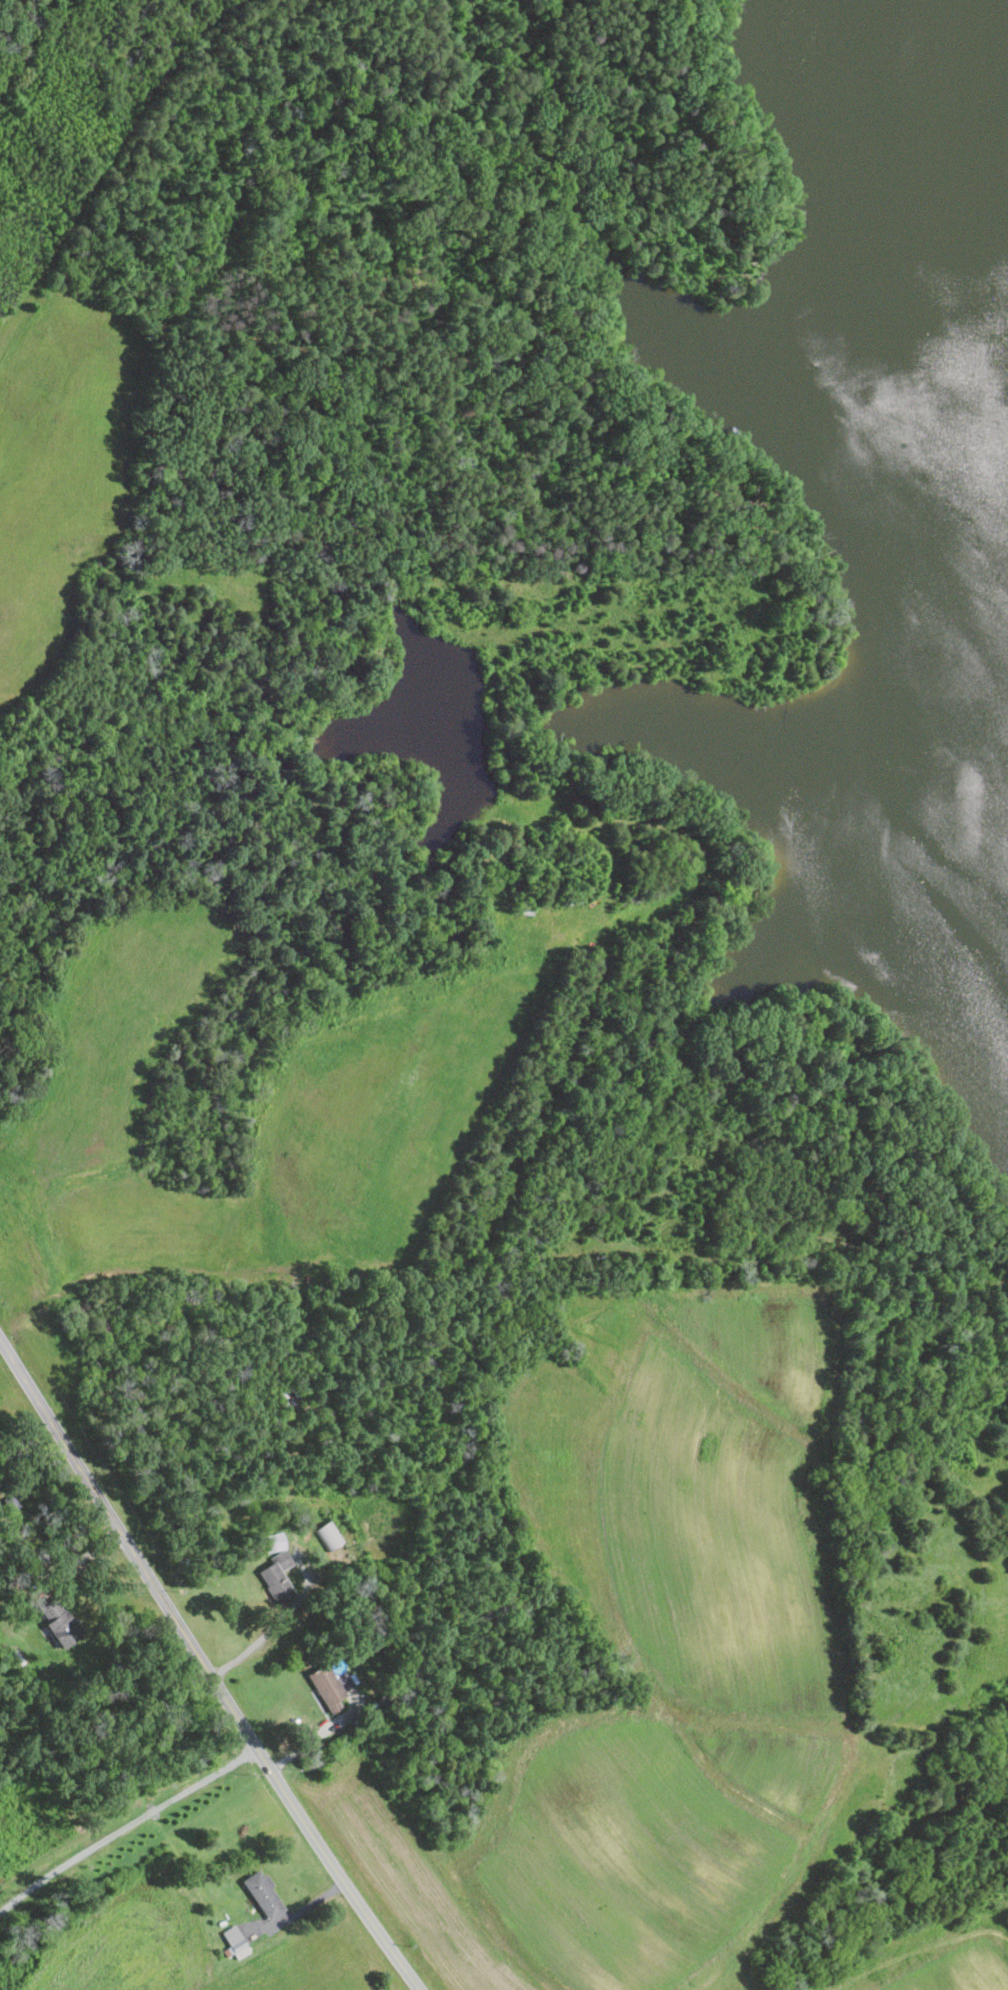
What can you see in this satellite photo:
building: (272, 1542)
road: (75, 1559)
building: (276, 1576)
building: (58, 1621)
road: (273, 1626)
road: (205, 1667)
building: (347, 1680)
building: (326, 1685)
road: (307, 1741)
road: (125, 1827)
building: (263, 1893)
road: (295, 1910)
building: (234, 1941)

